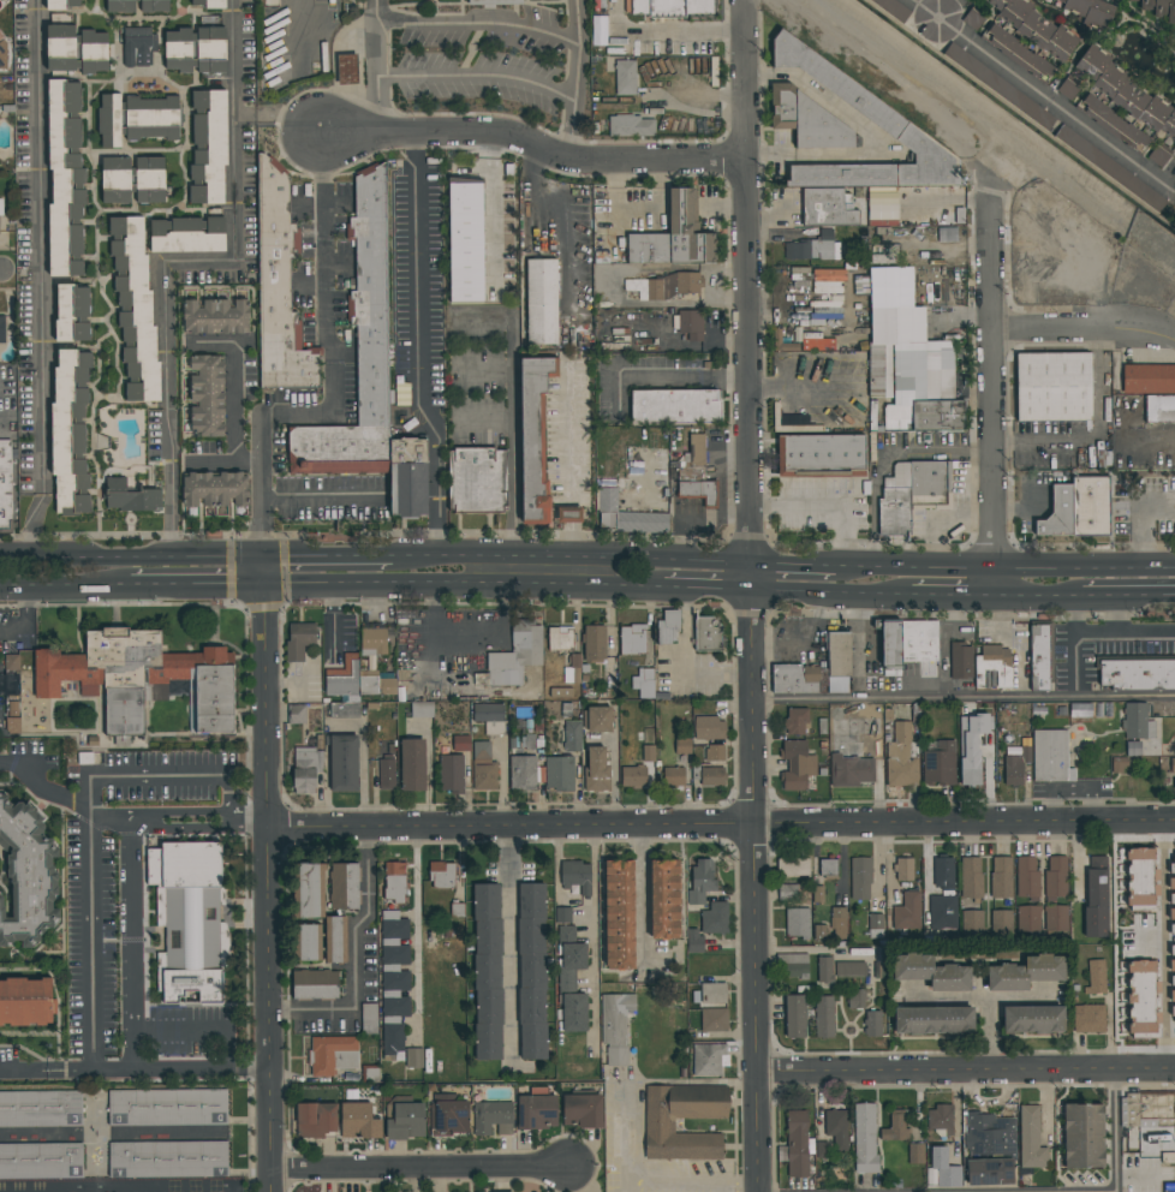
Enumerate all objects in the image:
building: (209, 2)
building: (62, 4)
building: (120, 7)
building: (667, 7)
building: (1159, 7)
building: (895, 8)
building: (1087, 10)
building: (774, 11)
road: (479, 22)
building: (1033, 25)
building: (94, 43)
building: (138, 48)
building: (195, 49)
building: (1018, 53)
building: (2, 55)
building: (78, 65)
road: (378, 67)
road: (478, 76)
building: (625, 77)
road: (575, 79)
building: (1000, 85)
building: (1067, 89)
road: (1043, 93)
building: (1126, 93)
building: (0, 109)
building: (873, 111)
building: (136, 118)
building: (807, 120)
building: (1113, 124)
building: (631, 126)
building: (209, 147)
road: (531, 148)
road: (416, 150)
building: (1158, 156)
building: (1110, 167)
building: (130, 177)
building: (65, 178)
building: (150, 196)
building: (0, 216)
building: (187, 234)
building: (675, 236)
building: (466, 240)
road: (41, 246)
building: (812, 249)
road: (186, 263)
road: (2, 272)
road: (418, 274)
building: (827, 280)
building: (664, 286)
building: (280, 288)
building: (542, 302)
building: (135, 309)
building: (72, 312)
building: (216, 316)
building: (691, 324)
road: (1084, 326)
building: (1, 330)
building: (777, 335)
building: (359, 353)
building: (908, 358)
road: (661, 372)
road: (333, 374)
building: (1149, 379)
building: (1052, 387)
road: (992, 388)
building: (207, 395)
building: (675, 406)
road: (240, 407)
building: (1159, 409)
road: (485, 419)
road: (514, 428)
building: (70, 431)
road: (1096, 431)
building: (533, 439)
building: (822, 455)
road: (252, 464)
road: (439, 469)
building: (477, 481)
building: (7, 487)
building: (215, 489)
building: (696, 491)
building: (911, 493)
building: (131, 497)
road: (322, 503)
road: (821, 506)
building: (1078, 509)
building: (568, 514)
building: (628, 515)
road: (1146, 520)
road: (34, 525)
road: (132, 556)
traffic signals: (266, 556)
road: (329, 556)
road: (569, 559)
road: (791, 562)
road: (1004, 567)
road: (266, 572)
road: (197, 588)
traffic signals: (266, 588)
road: (65, 589)
road: (505, 589)
road: (869, 594)
road: (746, 596)
road: (1036, 596)
road: (1126, 596)
road: (1078, 610)
road: (25, 620)
building: (668, 627)
building: (708, 634)
building: (560, 638)
road: (1126, 638)
building: (632, 639)
building: (299, 640)
building: (374, 640)
road: (1012, 642)
building: (594, 644)
road: (858, 645)
building: (909, 646)
building: (517, 655)
building: (1040, 657)
road: (1076, 661)
building: (839, 662)
building: (960, 662)
building: (574, 663)
building: (992, 667)
building: (1138, 674)
building: (142, 679)
building: (795, 679)
building: (357, 680)
building: (644, 683)
road: (961, 698)
building: (422, 709)
building: (488, 713)
building: (297, 714)
building: (598, 719)
building: (795, 722)
building: (1138, 722)
building: (11, 726)
building: (709, 728)
building: (572, 737)
building: (682, 746)
building: (972, 746)
building: (715, 752)
building: (639, 755)
building: (901, 758)
building: (342, 763)
building: (848, 764)
building: (940, 764)
building: (412, 765)
building: (797, 765)
building: (484, 768)
building: (596, 768)
road: (428, 771)
building: (523, 773)
building: (386, 774)
building: (452, 774)
building: (559, 774)
building: (633, 776)
building: (712, 776)
road: (160, 777)
building: (674, 777)
road: (42, 791)
road: (721, 827)
road: (201, 829)
road: (1078, 852)
road: (90, 853)
road: (878, 856)
building: (793, 868)
building: (828, 869)
building: (903, 869)
building: (943, 874)
building: (442, 875)
building: (25, 876)
building: (577, 876)
building: (971, 877)
building: (1001, 877)
building: (1027, 877)
building: (1056, 877)
building: (1140, 877)
building: (860, 878)
building: (702, 881)
building: (395, 882)
building: (344, 886)
building: (1174, 886)
road: (269, 889)
building: (310, 890)
road: (643, 894)
building: (1096, 896)
building: (664, 899)
building: (943, 912)
building: (907, 913)
building: (562, 914)
building: (619, 914)
building: (1028, 918)
building: (715, 919)
building: (1054, 919)
building: (189, 920)
building: (798, 923)
building: (839, 923)
building: (1001, 923)
parking lot: (100, 925)
building: (875, 925)
road: (595, 932)
building: (566, 934)
road: (416, 936)
building: (335, 940)
building: (693, 941)
building: (310, 942)
road: (133, 943)
road: (1164, 946)
road: (513, 948)
road: (357, 961)
building: (1171, 962)
building: (794, 965)
building: (824, 970)
building: (849, 970)
building: (531, 971)
building: (488, 972)
building: (931, 972)
building: (1025, 973)
building: (1096, 977)
building: (394, 981)
building: (315, 984)
building: (572, 988)
building: (712, 993)
building: (1141, 997)
building: (855, 999)
road: (983, 999)
building: (26, 1002)
building: (794, 1017)
building: (824, 1017)
building: (1088, 1019)
building: (714, 1020)
building: (934, 1020)
building: (1033, 1020)
building: (872, 1024)
building: (616, 1027)
road: (180, 1032)
road: (990, 1035)
building: (333, 1055)
building: (413, 1057)
building: (709, 1059)
road: (23, 1068)
road: (157, 1071)
road: (967, 1072)
road: (633, 1081)
building: (167, 1107)
building: (41, 1109)
building: (581, 1110)
building: (1150, 1110)
building: (537, 1111)
building: (448, 1115)
building: (493, 1117)
building: (940, 1119)
building: (315, 1120)
building: (359, 1121)
building: (406, 1121)
building: (660, 1126)
building: (895, 1127)
building: (836, 1128)
road: (1116, 1131)
building: (1082, 1136)
building: (865, 1138)
building: (1031, 1138)
building: (798, 1144)
building: (990, 1150)
building: (917, 1154)
building: (168, 1160)
building: (41, 1161)
building: (942, 1169)
road: (419, 1170)
road: (117, 1186)
road: (233, 1188)
road: (669, 1188)
road: (736, 1188)

